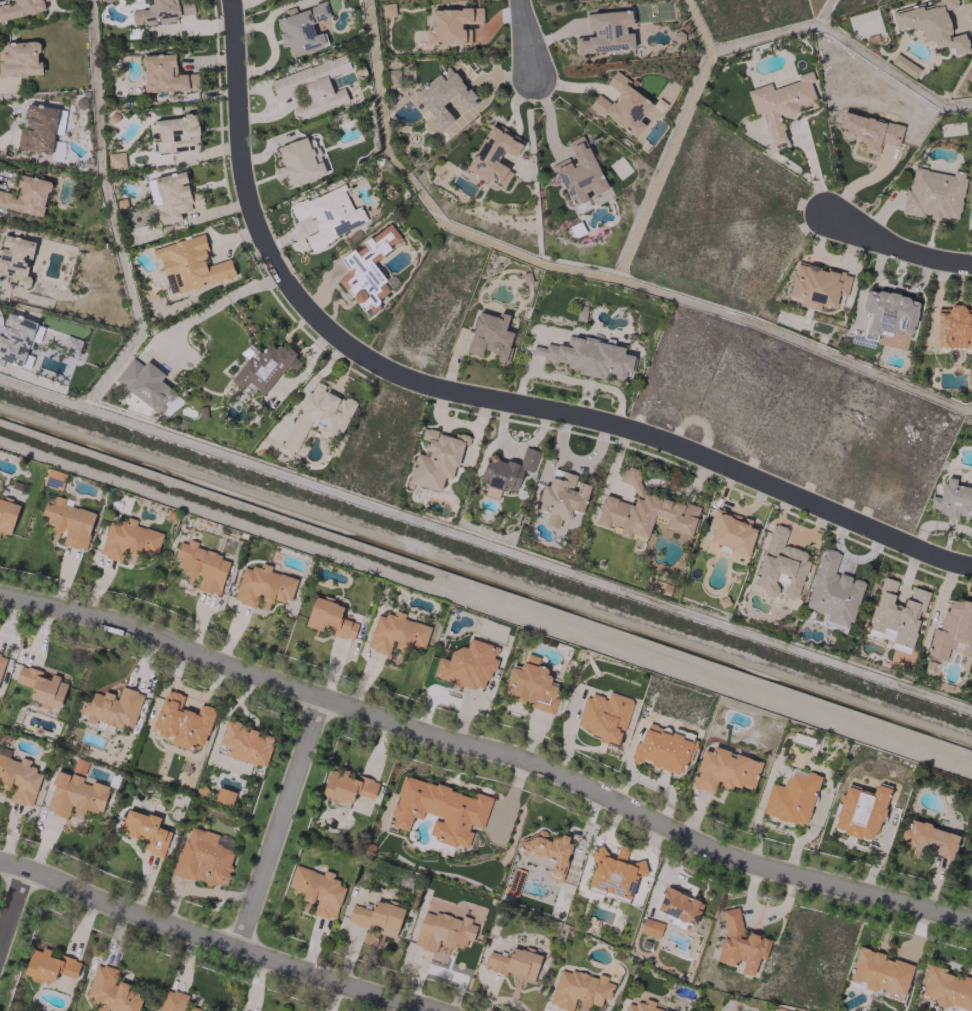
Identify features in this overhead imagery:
building: (100, 1)
building: (20, 8)
building: (387, 9)
building: (161, 11)
building: (931, 25)
building: (450, 26)
building: (301, 29)
building: (606, 33)
road: (525, 35)
building: (19, 59)
building: (904, 65)
building: (165, 75)
building: (313, 86)
building: (442, 97)
building: (780, 104)
building: (621, 105)
building: (37, 129)
building: (869, 131)
building: (175, 134)
building: (493, 155)
building: (116, 160)
building: (298, 161)
building: (579, 173)
road: (242, 175)
road: (860, 182)
building: (933, 193)
building: (26, 196)
building: (173, 196)
building: (329, 215)
road: (896, 248)
road: (823, 256)
building: (15, 260)
building: (190, 264)
building: (367, 268)
road: (894, 282)
building: (170, 284)
building: (817, 285)
road: (216, 303)
building: (888, 313)
building: (953, 327)
building: (490, 336)
building: (17, 339)
building: (588, 356)
building: (265, 366)
building: (969, 379)
building: (147, 386)
building: (316, 419)
road: (650, 435)
building: (436, 458)
building: (507, 469)
building: (561, 495)
building: (952, 501)
building: (644, 510)
building: (7, 516)
building: (68, 522)
building: (729, 533)
building: (128, 539)
building: (779, 565)
building: (201, 566)
building: (262, 586)
building: (832, 590)
building: (895, 613)
building: (329, 618)
building: (952, 631)
building: (396, 633)
building: (1, 661)
building: (467, 665)
building: (530, 684)
building: (42, 687)
building: (111, 708)
building: (603, 716)
building: (181, 721)
building: (244, 743)
road: (490, 747)
building: (724, 770)
building: (17, 778)
building: (346, 786)
building: (74, 796)
building: (223, 796)
building: (791, 798)
building: (439, 810)
building: (860, 811)
road: (279, 826)
building: (145, 831)
building: (928, 839)
building: (223, 841)
building: (548, 850)
building: (202, 857)
building: (970, 859)
building: (614, 874)
building: (514, 881)
building: (316, 891)
building: (679, 905)
road: (14, 914)
building: (376, 917)
building: (650, 927)
building: (442, 932)
road: (205, 943)
building: (739, 943)
building: (513, 963)
building: (48, 965)
building: (879, 972)
building: (946, 987)
building: (579, 990)
building: (110, 991)
building: (174, 1001)
building: (641, 1006)
building: (237, 1010)

